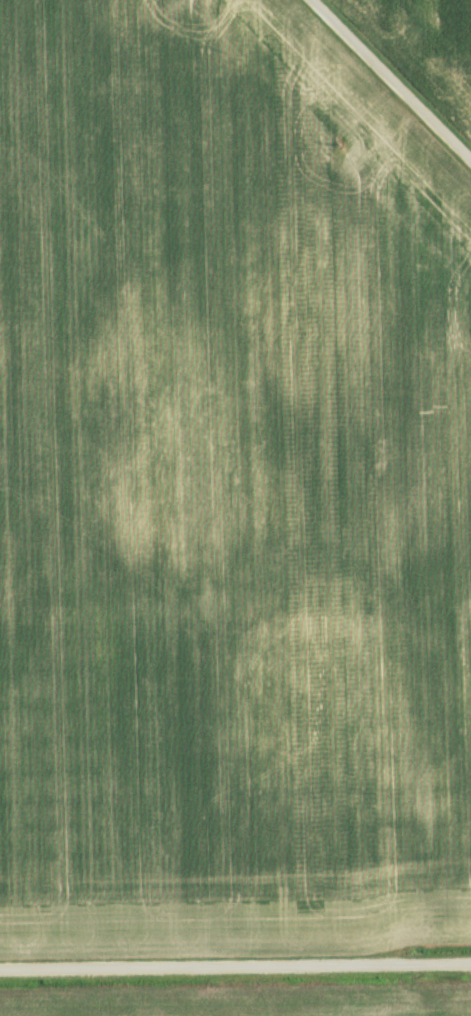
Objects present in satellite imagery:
road: (392, 79)
road: (235, 961)

